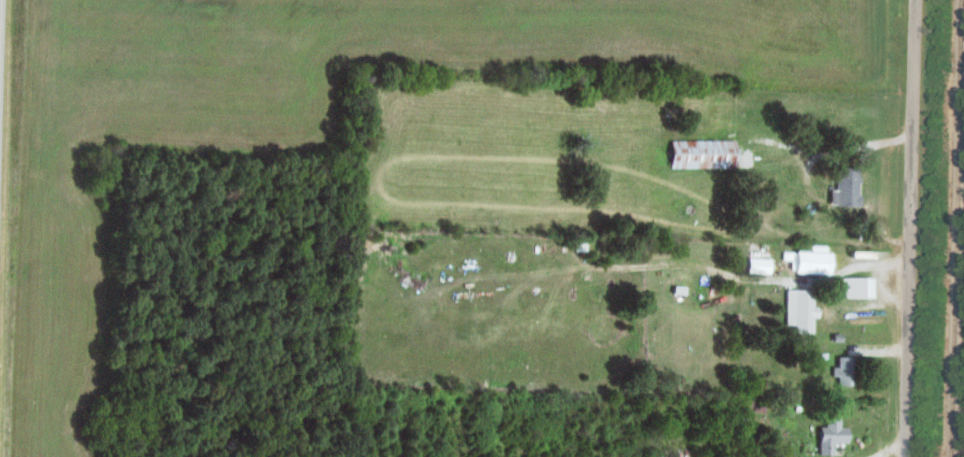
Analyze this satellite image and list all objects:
building: (700, 155)
building: (844, 188)
road: (909, 228)
railway: (954, 228)
road: (863, 260)
building: (808, 262)
building: (854, 289)
building: (798, 311)
building: (842, 373)
building: (752, 407)
building: (829, 436)

